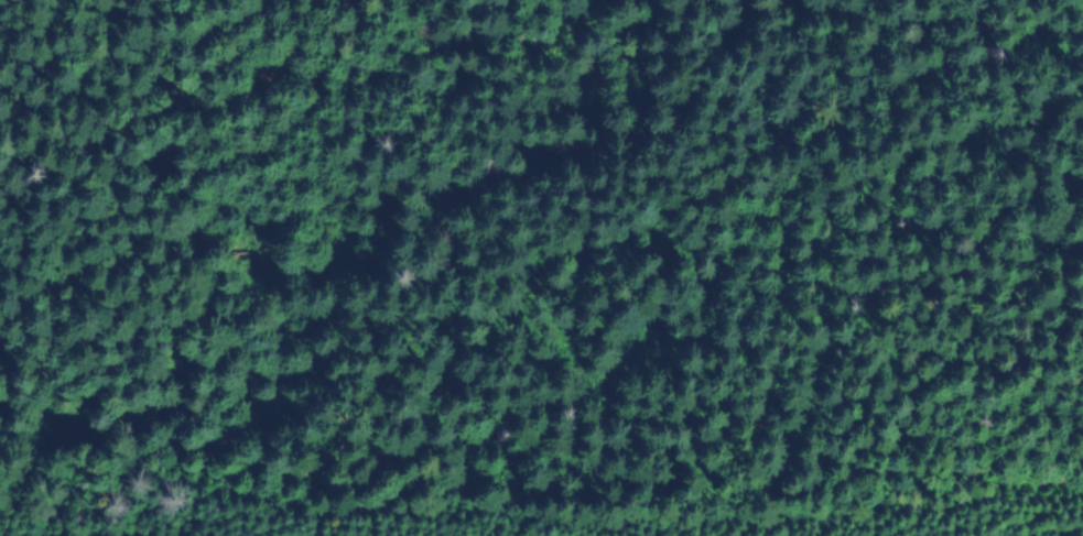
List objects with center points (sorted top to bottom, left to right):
road: (945, 133)

